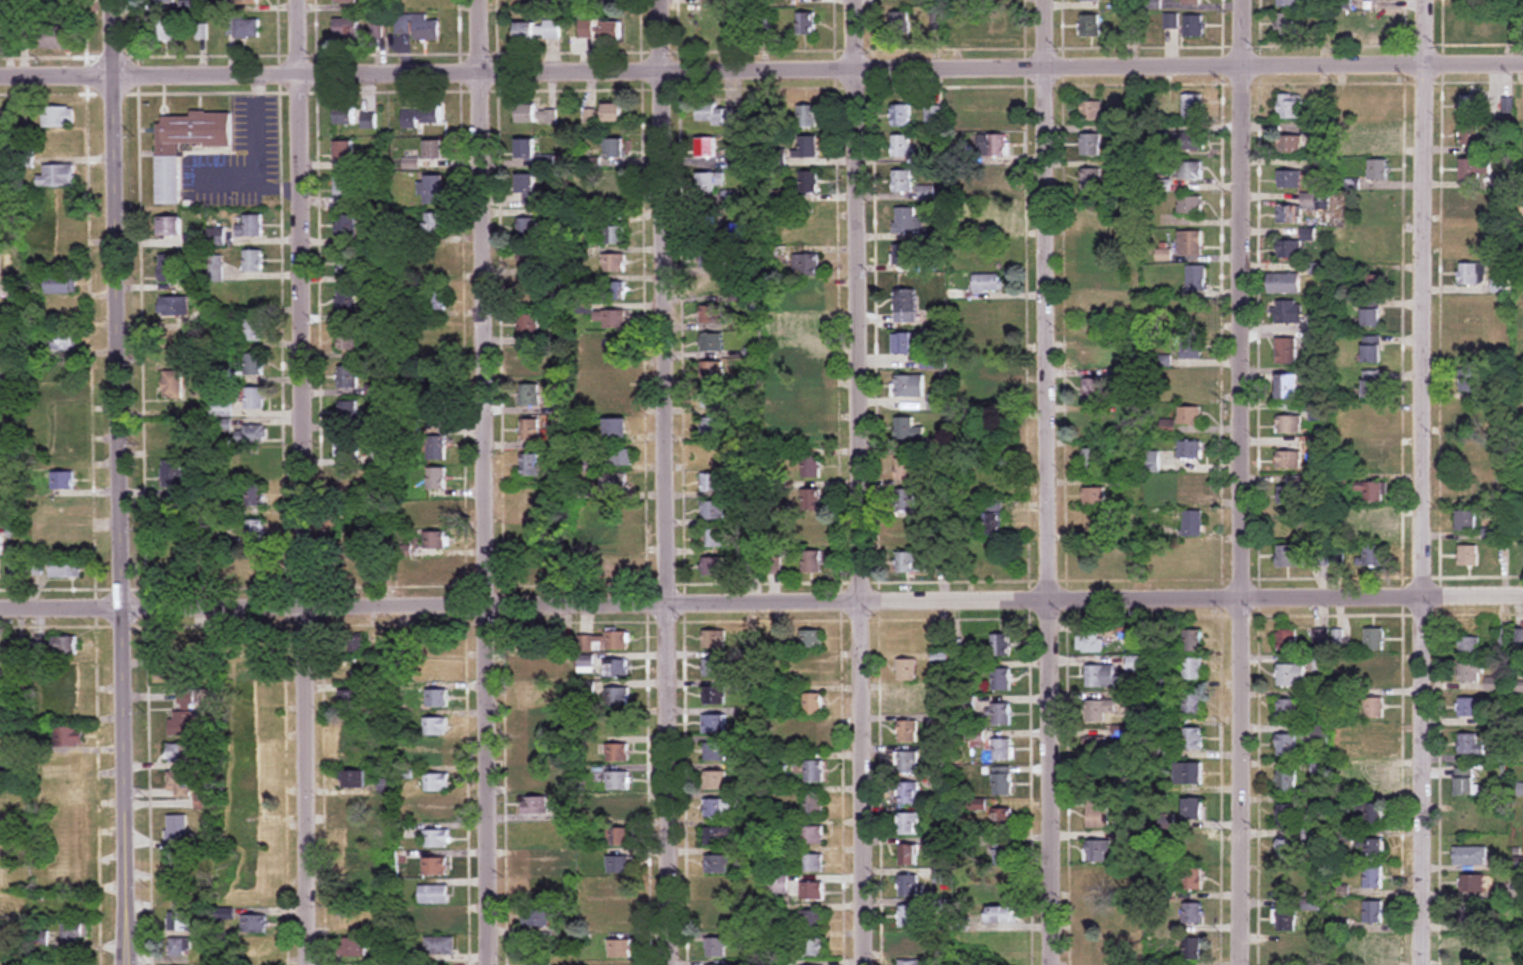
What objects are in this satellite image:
building: (1376, 0)
building: (1090, 1)
building: (163, 2)
building: (248, 2)
building: (344, 2)
building: (430, 2)
building: (711, 2)
building: (1192, 2)
building: (612, 3)
building: (1287, 3)
building: (1474, 3)
building: (996, 22)
building: (1171, 22)
building: (1376, 22)
building: (900, 23)
building: (1287, 23)
building: (806, 24)
building: (1475, 24)
building: (1090, 26)
building: (1194, 27)
building: (417, 28)
building: (245, 29)
building: (346, 29)
building: (165, 30)
building: (601, 30)
building: (201, 31)
building: (538, 31)
building: (715, 31)
building: (57, 38)
road: (820, 69)
road: (59, 74)
building: (1291, 105)
building: (1376, 105)
building: (1193, 106)
building: (1469, 106)
building: (1090, 110)
building: (613, 111)
building: (432, 114)
building: (535, 114)
building: (720, 114)
building: (997, 114)
building: (345, 115)
building: (590, 115)
building: (808, 115)
building: (901, 115)
building: (934, 115)
building: (58, 116)
building: (410, 119)
building: (368, 122)
building: (1472, 134)
building: (1379, 137)
building: (1191, 140)
building: (1290, 143)
building: (1090, 144)
building: (902, 145)
building: (993, 145)
building: (706, 146)
building: (807, 146)
building: (615, 147)
building: (434, 149)
building: (526, 149)
building: (345, 154)
road: (256, 155)
building: (547, 160)
building: (411, 163)
building: (1473, 168)
building: (1378, 169)
building: (1190, 170)
building: (169, 174)
building: (57, 176)
road: (227, 176)
building: (1290, 178)
building: (1092, 180)
building: (808, 181)
building: (902, 181)
building: (993, 181)
building: (616, 182)
building: (708, 182)
building: (526, 183)
building: (432, 185)
building: (349, 189)
building: (927, 194)
building: (1472, 203)
building: (1191, 204)
building: (1299, 208)
building: (907, 220)
building: (994, 220)
building: (433, 224)
building: (169, 226)
building: (250, 226)
building: (346, 227)
building: (59, 228)
building: (528, 228)
building: (1347, 234)
building: (614, 235)
building: (216, 237)
building: (1474, 237)
building: (196, 241)
building: (1191, 243)
building: (1376, 245)
building: (1290, 248)
building: (1099, 249)
building: (532, 255)
building: (902, 255)
building: (712, 258)
building: (253, 260)
building: (434, 261)
building: (614, 262)
building: (348, 263)
building: (806, 265)
building: (168, 267)
building: (214, 269)
building: (0, 273)
building: (1473, 273)
building: (1198, 277)
building: (1286, 283)
building: (60, 284)
building: (989, 284)
building: (1377, 284)
building: (1501, 285)
building: (614, 290)
building: (1092, 294)
building: (435, 297)
building: (810, 299)
building: (347, 301)
building: (174, 305)
building: (905, 306)
building: (1195, 308)
building: (1470, 309)
building: (1289, 311)
building: (712, 314)
building: (1374, 316)
building: (976, 317)
building: (615, 318)
building: (785, 321)
building: (528, 324)
building: (253, 330)
building: (810, 331)
building: (435, 334)
building: (61, 340)
building: (347, 340)
building: (1, 342)
building: (711, 342)
building: (1470, 345)
building: (615, 346)
building: (1192, 346)
building: (917, 349)
building: (1374, 349)
building: (1288, 350)
building: (1093, 356)
building: (529, 359)
building: (253, 364)
building: (810, 365)
building: (1, 369)
building: (991, 369)
building: (712, 371)
building: (615, 374)
building: (347, 377)
building: (1191, 380)
building: (1470, 381)
building: (1374, 384)
building: (908, 385)
building: (173, 386)
building: (1288, 386)
building: (1094, 389)
building: (528, 394)
building: (61, 396)
building: (254, 398)
building: (615, 399)
building: (712, 399)
building: (810, 399)
building: (937, 401)
building: (221, 409)
building: (347, 413)
building: (1191, 415)
building: (1469, 416)
building: (1375, 422)
building: (62, 424)
building: (1093, 424)
building: (1290, 424)
building: (617, 427)
building: (713, 427)
building: (907, 429)
building: (529, 430)
building: (811, 432)
building: (251, 435)
building: (174, 436)
building: (347, 447)
building: (436, 447)
building: (1192, 449)
building: (1469, 451)
building: (63, 453)
building: (382, 456)
building: (1, 457)
building: (618, 457)
building: (1375, 458)
building: (1094, 459)
building: (1290, 460)
building: (254, 461)
building: (530, 464)
building: (811, 467)
building: (906, 469)
building: (172, 473)
building: (987, 473)
building: (436, 478)
building: (62, 480)
road: (126, 482)
road: (307, 482)
road: (489, 482)
road: (667, 482)
road: (862, 482)
road: (1055, 482)
road: (1248, 482)
road: (1434, 482)
building: (712, 483)
building: (615, 484)
building: (1469, 486)
building: (1194, 488)
building: (1373, 491)
building: (1294, 492)
building: (254, 496)
building: (1095, 496)
building: (811, 499)
building: (904, 500)
building: (64, 508)
building: (713, 510)
building: (435, 512)
building: (994, 516)
building: (1091, 520)
building: (1469, 520)
building: (1193, 523)
building: (1371, 526)
building: (255, 531)
building: (906, 532)
building: (812, 534)
building: (714, 538)
building: (435, 540)
building: (618, 540)
building: (64, 543)
building: (0, 545)
building: (175, 555)
building: (1469, 555)
building: (1374, 556)
building: (1193, 557)
building: (1289, 557)
building: (1338, 558)
building: (812, 561)
building: (908, 563)
building: (532, 564)
building: (753, 564)
building: (34, 566)
building: (256, 566)
building: (713, 566)
building: (15, 567)
building: (64, 568)
building: (429, 568)
building: (353, 570)
road: (761, 603)
building: (1504, 637)
building: (1518, 637)
building: (714, 639)
building: (810, 639)
building: (1375, 639)
building: (1193, 640)
building: (1288, 640)
building: (1321, 640)
building: (603, 642)
building: (1089, 642)
building: (175, 644)
building: (533, 644)
building: (64, 645)
building: (1001, 645)
building: (1468, 646)
building: (35, 650)
building: (196, 657)
building: (1322, 662)
building: (1136, 664)
building: (618, 668)
building: (714, 668)
building: (976, 669)
building: (1193, 669)
building: (537, 670)
building: (907, 670)
building: (813, 671)
building: (1372, 672)
building: (1470, 672)
building: (67, 674)
building: (1291, 675)
building: (1102, 676)
building: (1001, 679)
building: (1493, 685)
building: (38, 686)
building: (714, 696)
building: (255, 697)
building: (617, 697)
building: (437, 698)
building: (185, 699)
building: (351, 700)
building: (907, 701)
building: (813, 704)
building: (1193, 704)
building: (68, 706)
building: (1470, 707)
building: (1375, 708)
building: (1099, 710)
building: (1287, 710)
building: (36, 714)
building: (1001, 714)
building: (537, 723)
building: (182, 724)
building: (255, 724)
building: (715, 724)
building: (435, 726)
building: (907, 732)
building: (68, 737)
building: (813, 738)
building: (1193, 738)
building: (1373, 744)
building: (1470, 744)
building: (1097, 746)
building: (1286, 746)
building: (536, 750)
building: (1002, 750)
building: (716, 752)
building: (618, 753)
building: (182, 754)
building: (434, 755)
building: (906, 763)
building: (62, 764)
building: (811, 770)
building: (1188, 773)
building: (352, 779)
building: (538, 779)
building: (1373, 779)
building: (716, 780)
building: (618, 781)
building: (1002, 781)
building: (1286, 781)
building: (436, 782)
building: (1467, 782)
building: (183, 783)
building: (68, 791)
building: (3, 792)
building: (908, 793)
building: (202, 802)
building: (535, 805)
building: (814, 805)
building: (977, 805)
building: (354, 807)
building: (720, 808)
building: (614, 809)
building: (1193, 809)
building: (434, 811)
building: (1098, 813)
building: (1369, 813)
building: (1287, 815)
building: (69, 819)
building: (1003, 820)
building: (1, 821)
building: (907, 824)
building: (176, 829)
building: (811, 835)
building: (720, 836)
building: (619, 837)
building: (437, 838)
building: (256, 840)
building: (1194, 844)
building: (0, 848)
building: (1373, 848)
building: (1097, 850)
building: (1286, 850)
building: (908, 855)
building: (1002, 855)
building: (1470, 856)
building: (811, 862)
building: (717, 864)
building: (620, 865)
building: (435, 867)
building: (533, 867)
building: (0, 875)
building: (63, 875)
building: (943, 876)
building: (1374, 877)
building: (1193, 878)
building: (1093, 879)
building: (778, 884)
building: (1473, 884)
building: (908, 885)
building: (812, 890)
building: (617, 891)
building: (179, 892)
building: (716, 892)
building: (1004, 892)
building: (433, 895)
building: (4, 904)
building: (943, 907)
building: (1374, 911)
building: (1193, 913)
building: (1003, 914)
building: (1097, 916)
building: (1472, 916)
building: (908, 917)
building: (536, 919)
building: (812, 919)
building: (620, 920)
building: (717, 920)
building: (1285, 920)
building: (177, 921)
building: (433, 923)
building: (253, 924)
building: (73, 933)
building: (542, 939)
building: (907, 945)
building: (439, 946)
building: (813, 947)
building: (1470, 947)
building: (179, 948)
building: (350, 948)
building: (716, 948)
building: (1193, 948)
building: (1374, 948)
building: (620, 949)
building: (1099, 950)
building: (1287, 954)
building: (226, 961)
building: (914, 963)
building: (536, 964)

